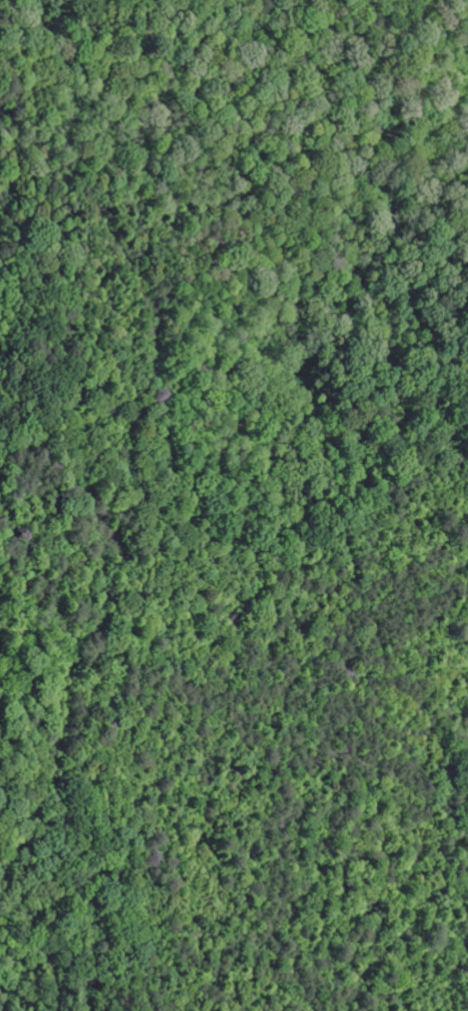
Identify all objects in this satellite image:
road: (106, 599)

